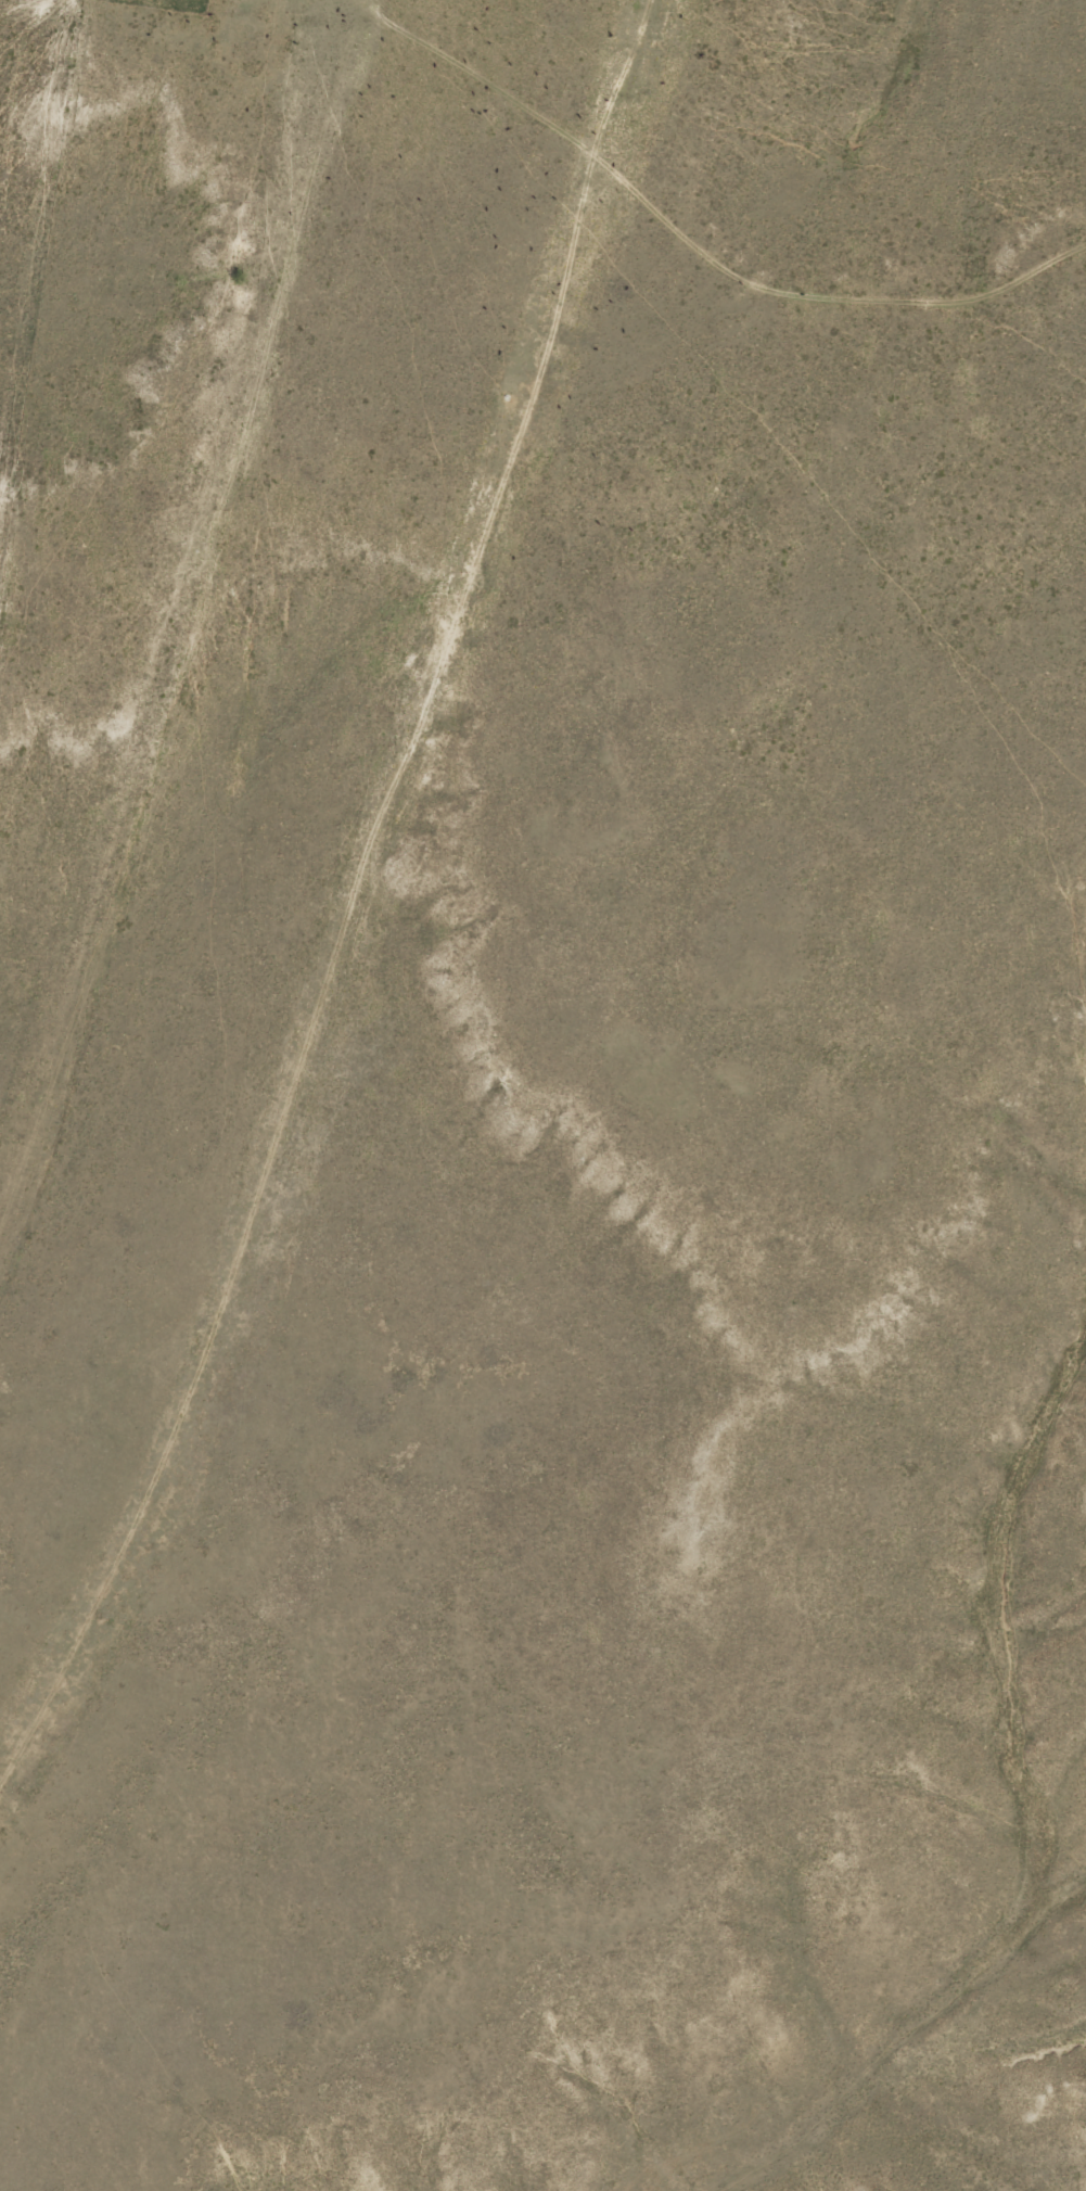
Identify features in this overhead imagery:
road: (643, 276)

